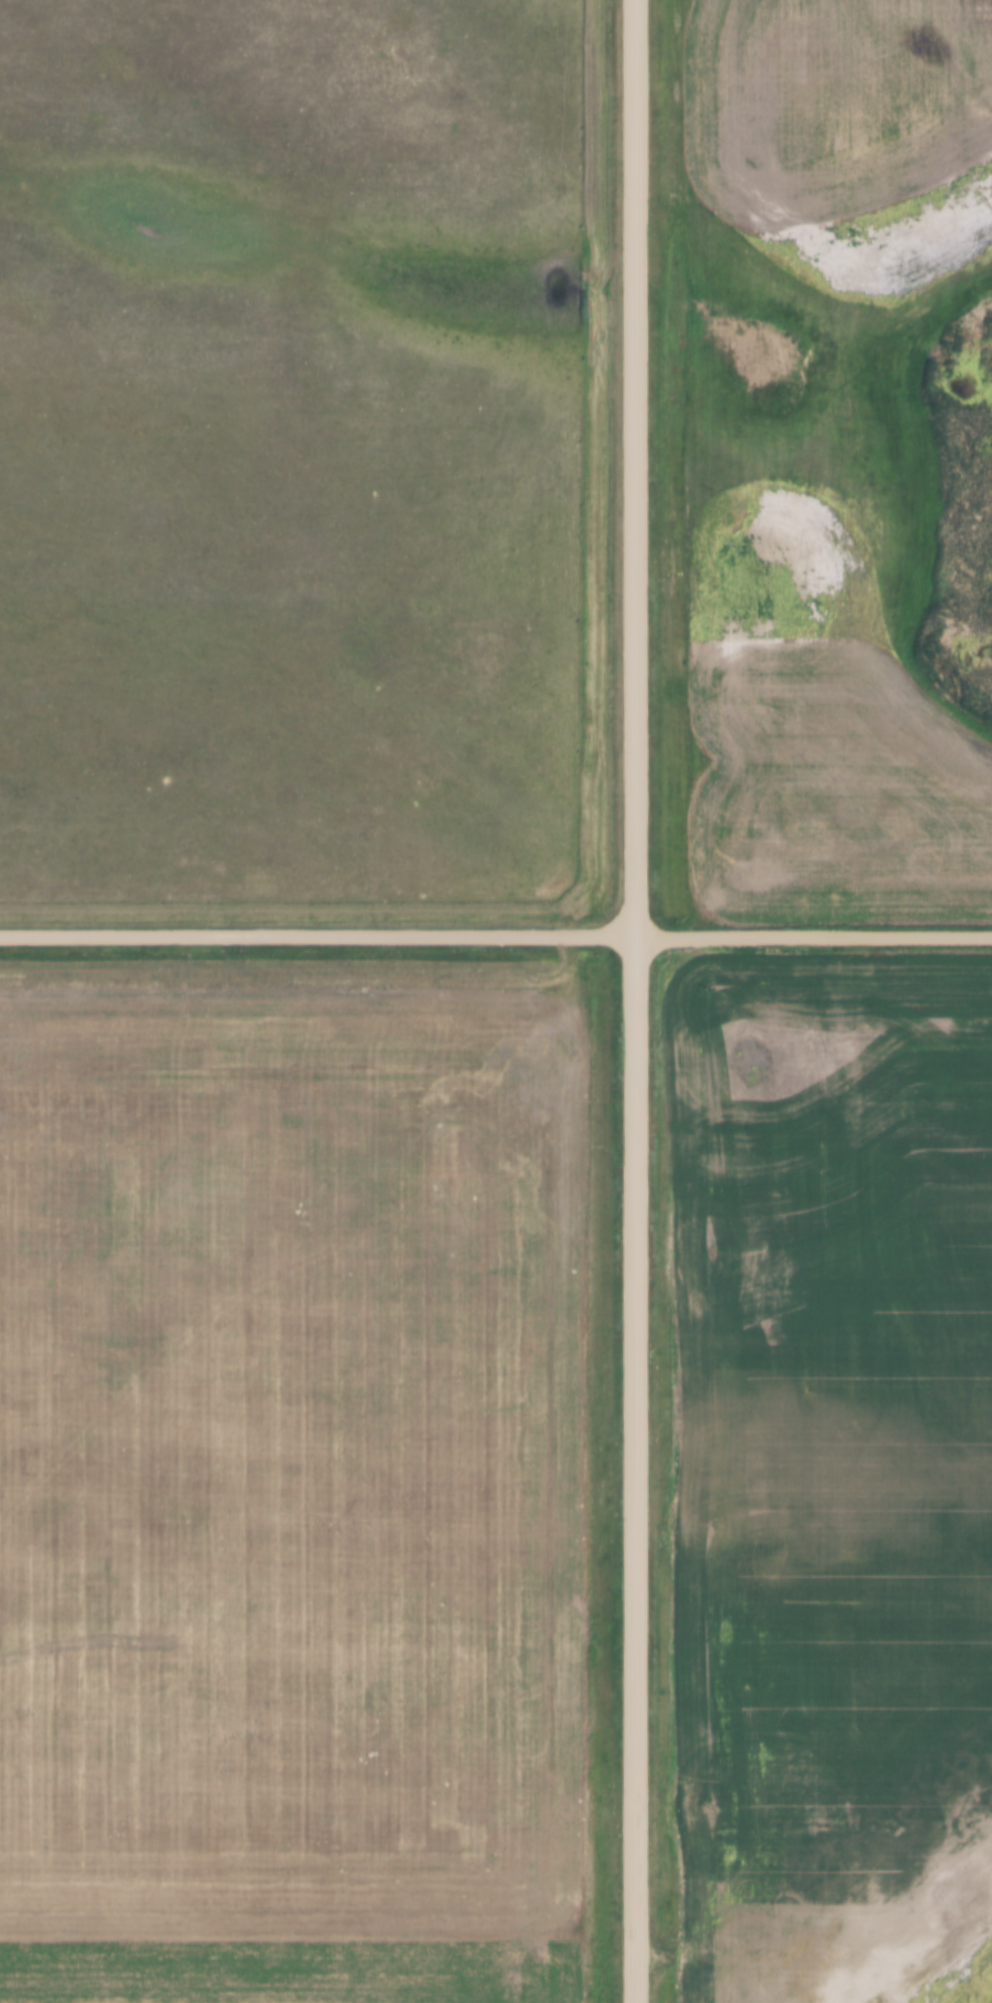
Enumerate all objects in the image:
road: (495, 937)
road: (635, 1001)

